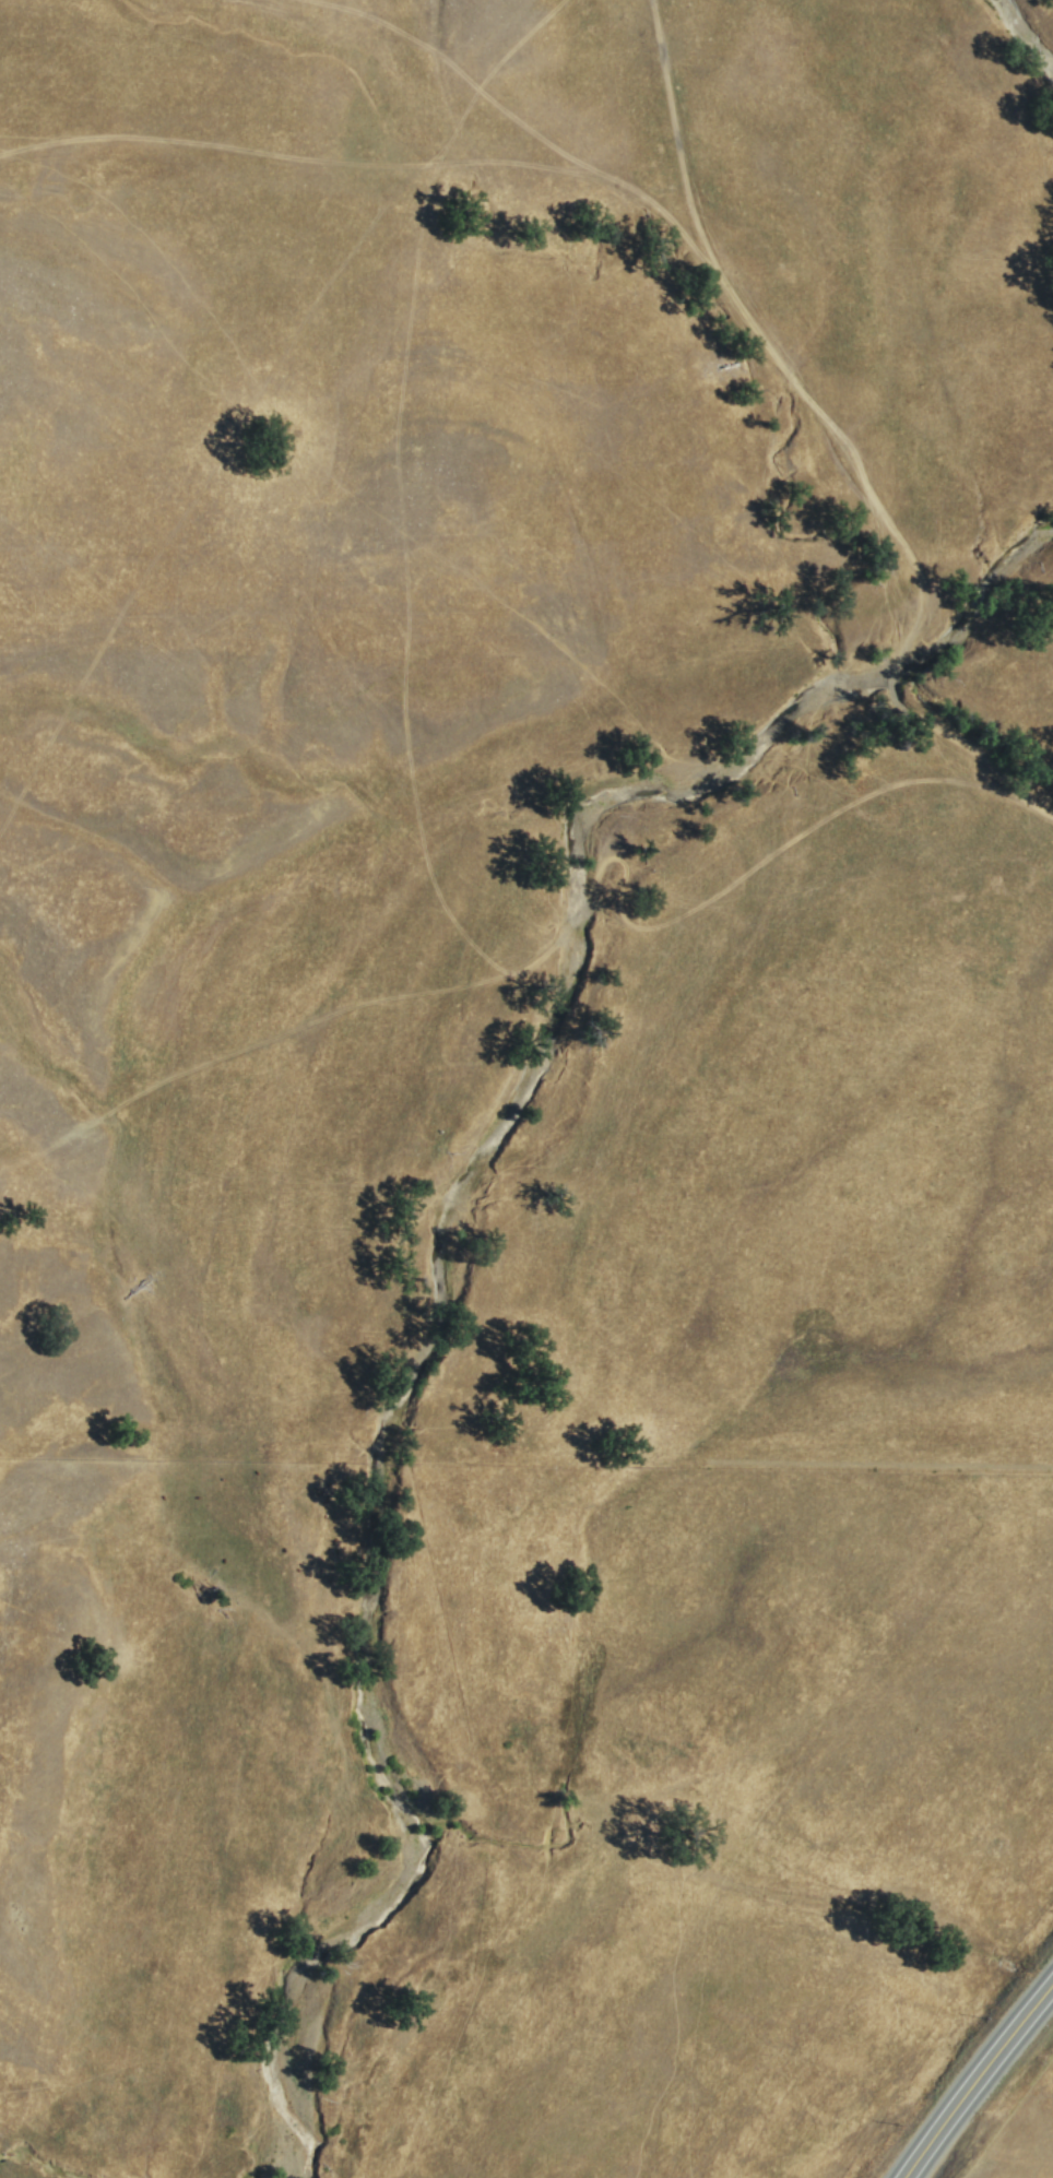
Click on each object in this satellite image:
road: (832, 441)
road: (974, 2076)

